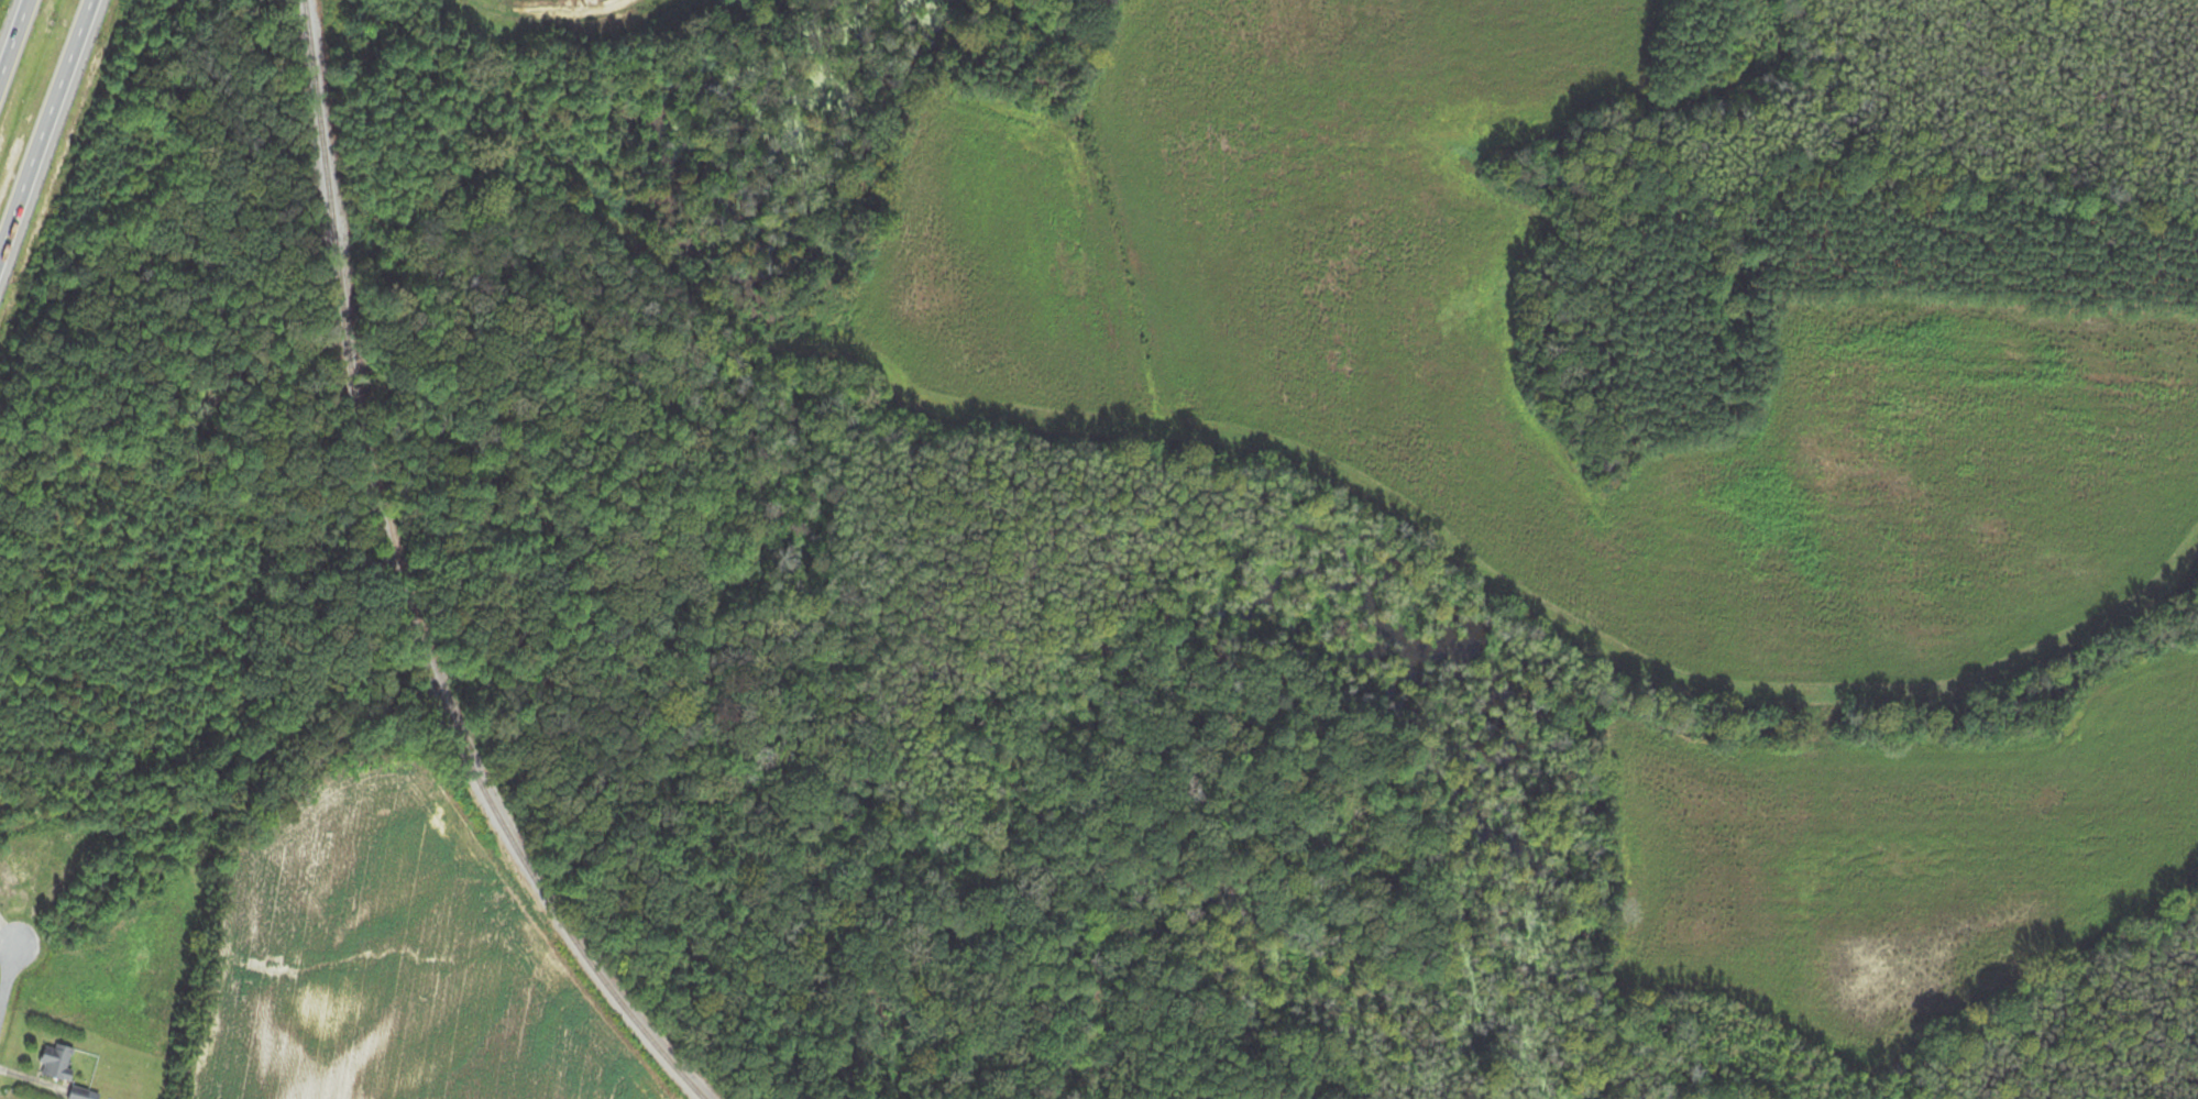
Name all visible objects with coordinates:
road: (13, 40)
road: (46, 130)
railway: (398, 590)
road: (9, 970)
building: (56, 1063)
building: (78, 1095)

